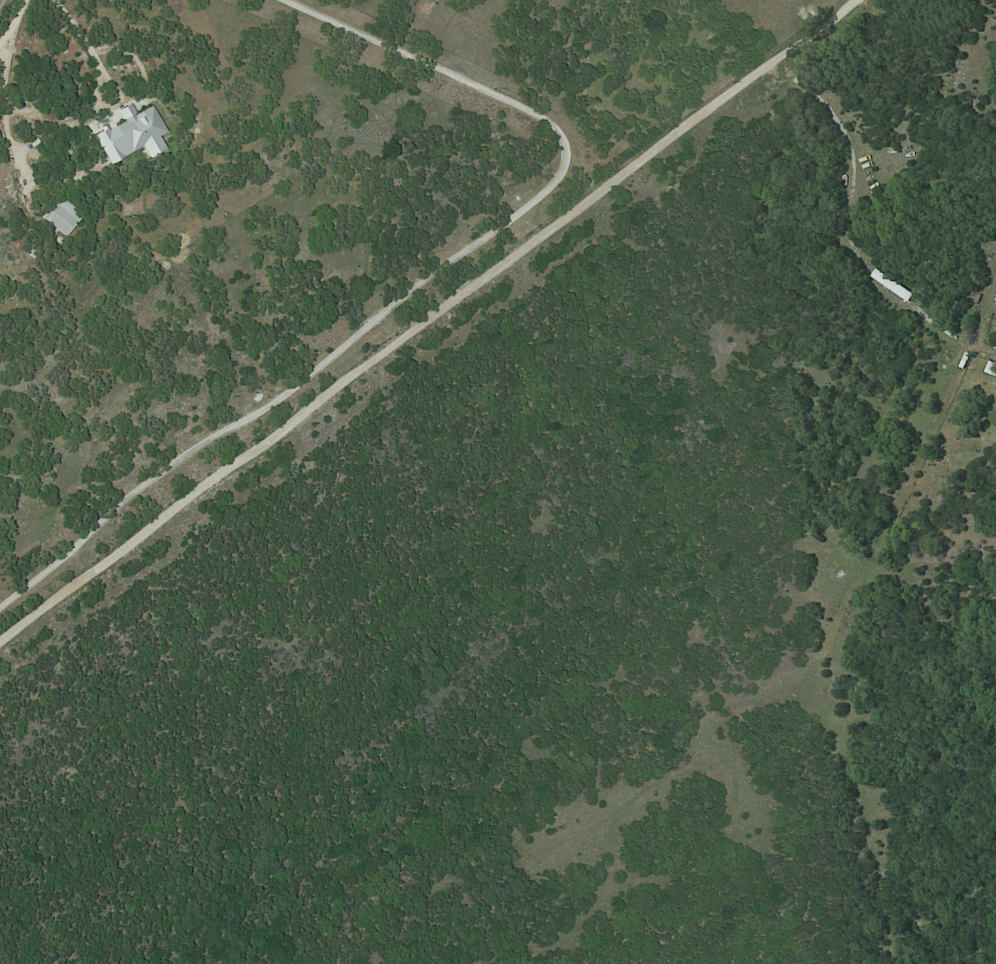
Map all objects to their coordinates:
road: (12, 19)
road: (72, 29)
building: (131, 134)
building: (60, 215)
building: (892, 285)
road: (416, 287)
road: (427, 319)
road: (953, 335)
building: (991, 369)

